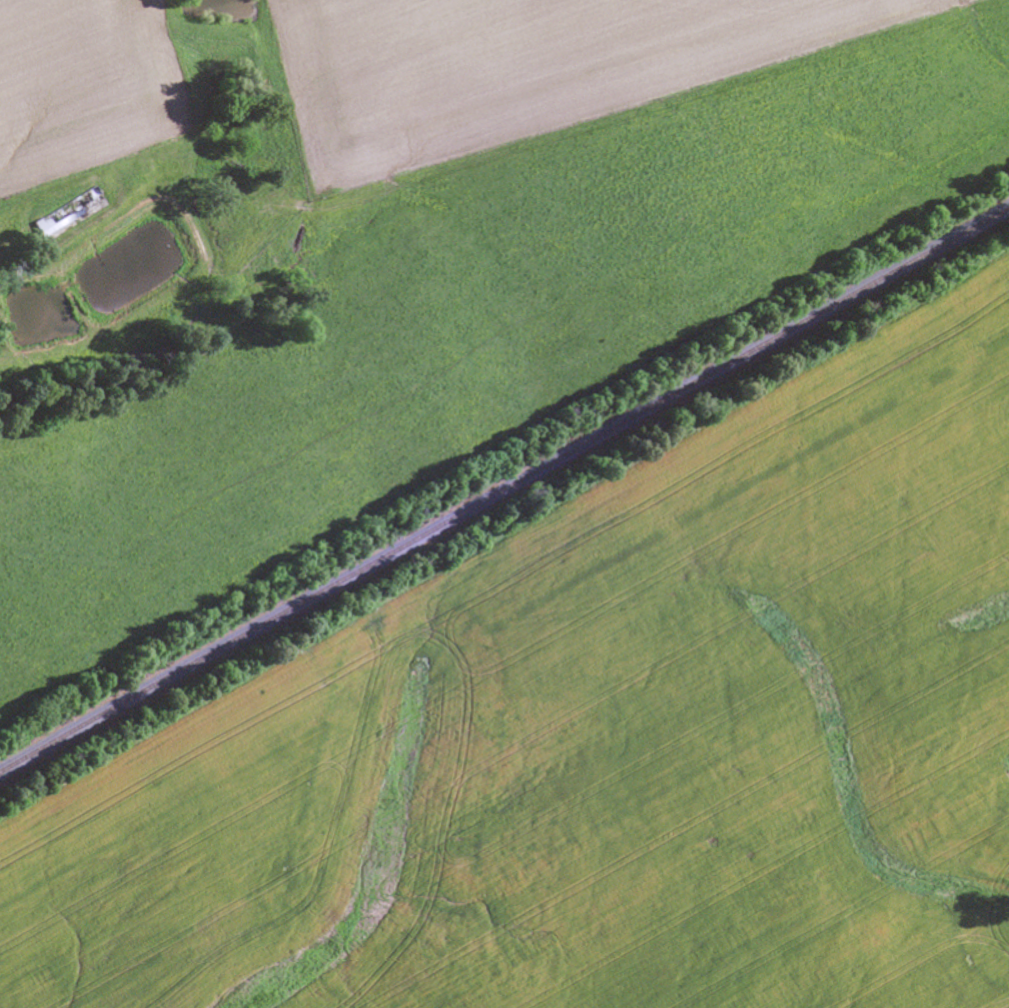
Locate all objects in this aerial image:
building: (64, 212)
railway: (504, 489)

